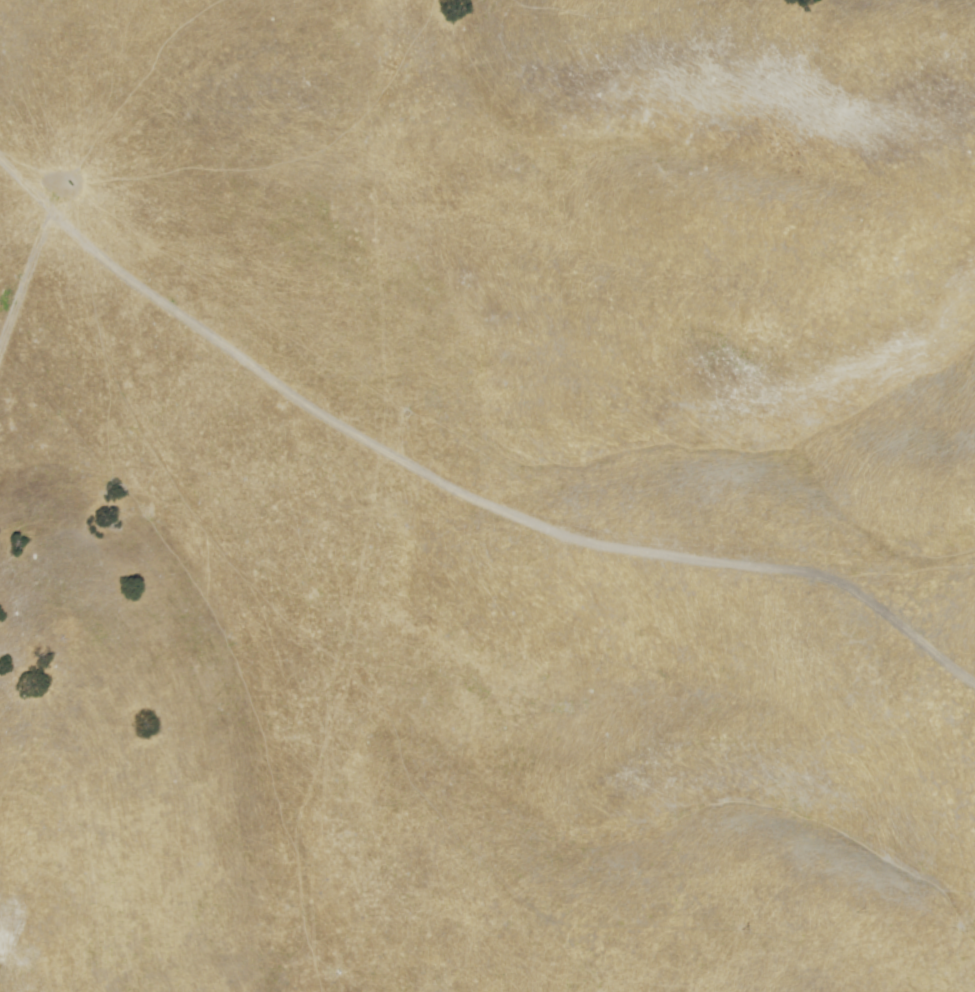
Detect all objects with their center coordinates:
road: (454, 496)

